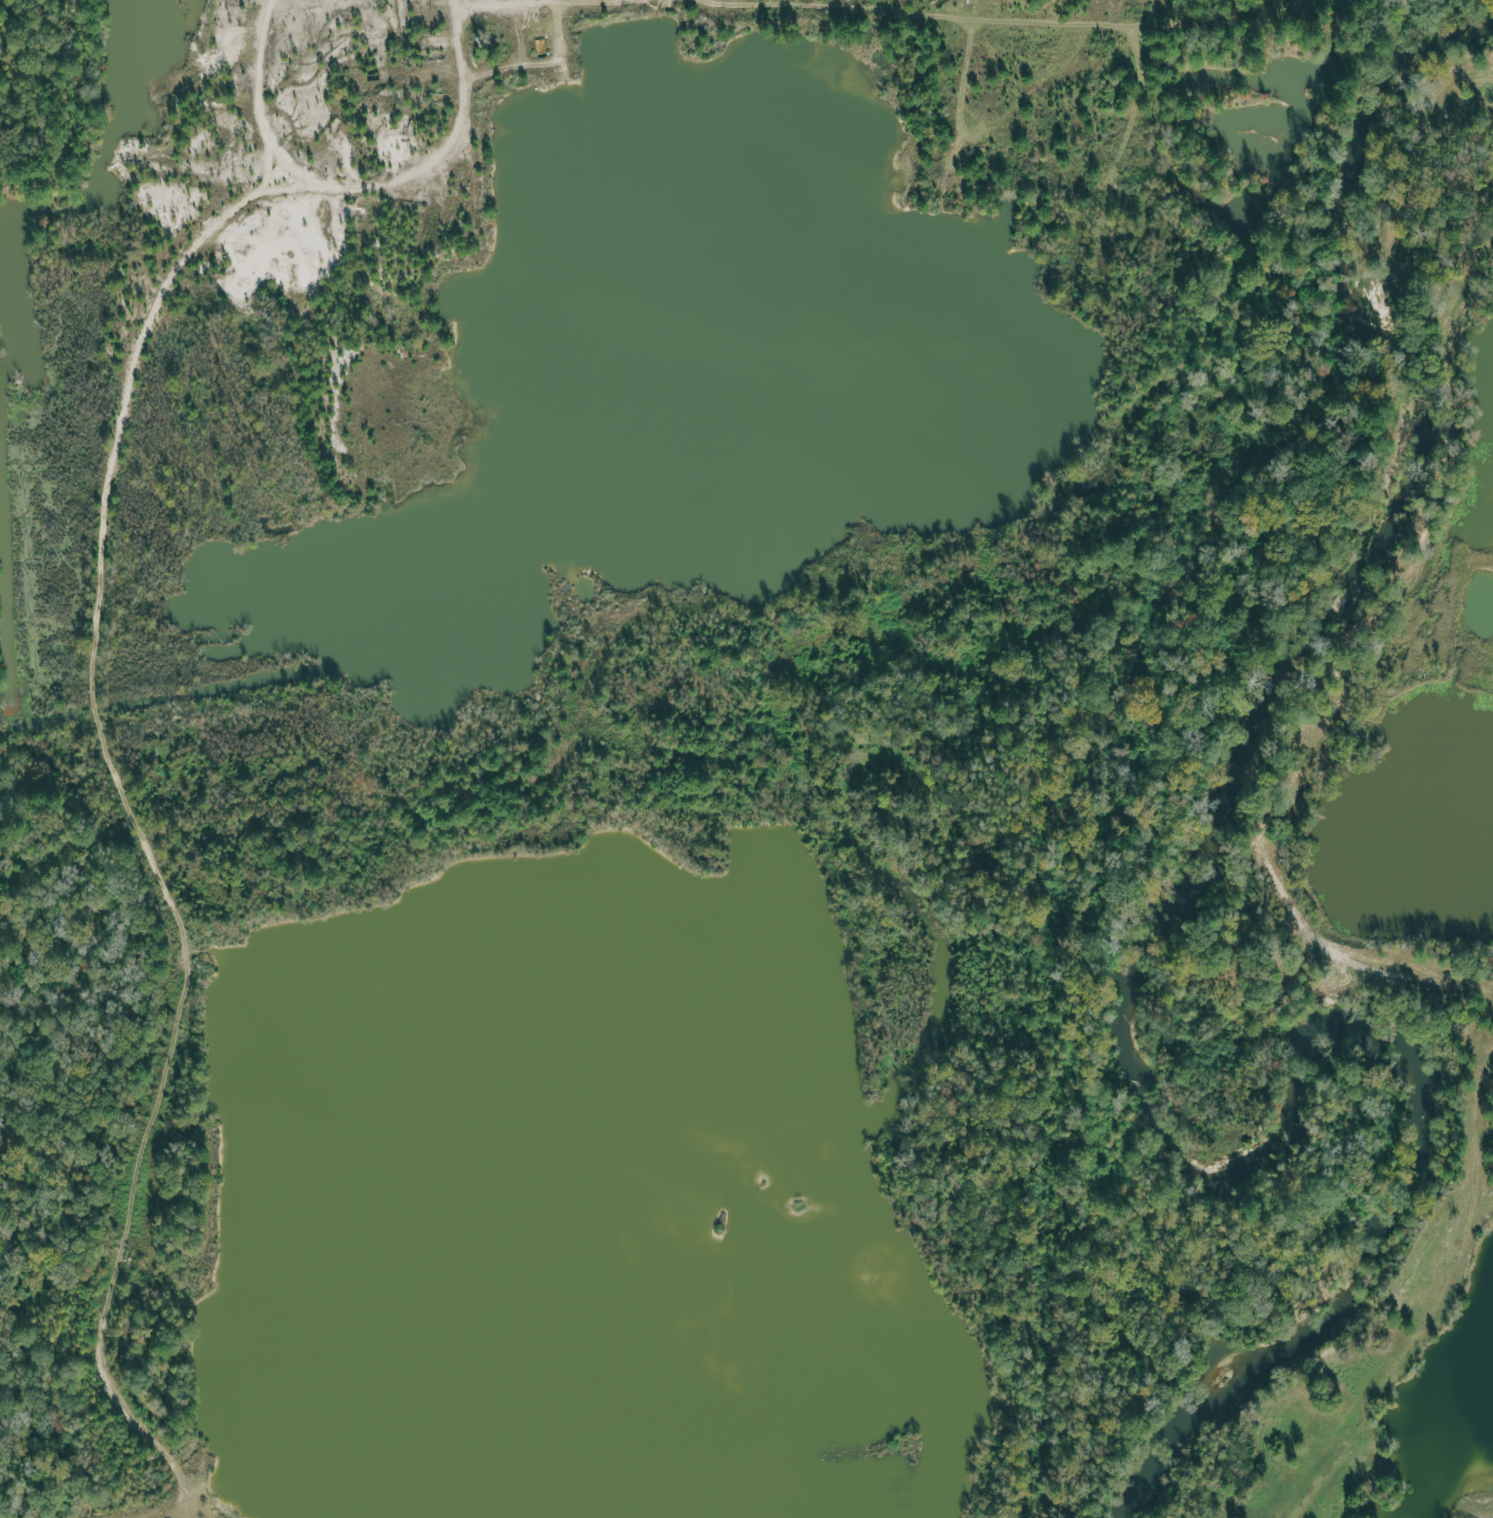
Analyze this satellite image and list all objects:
river: (1166, 929)

